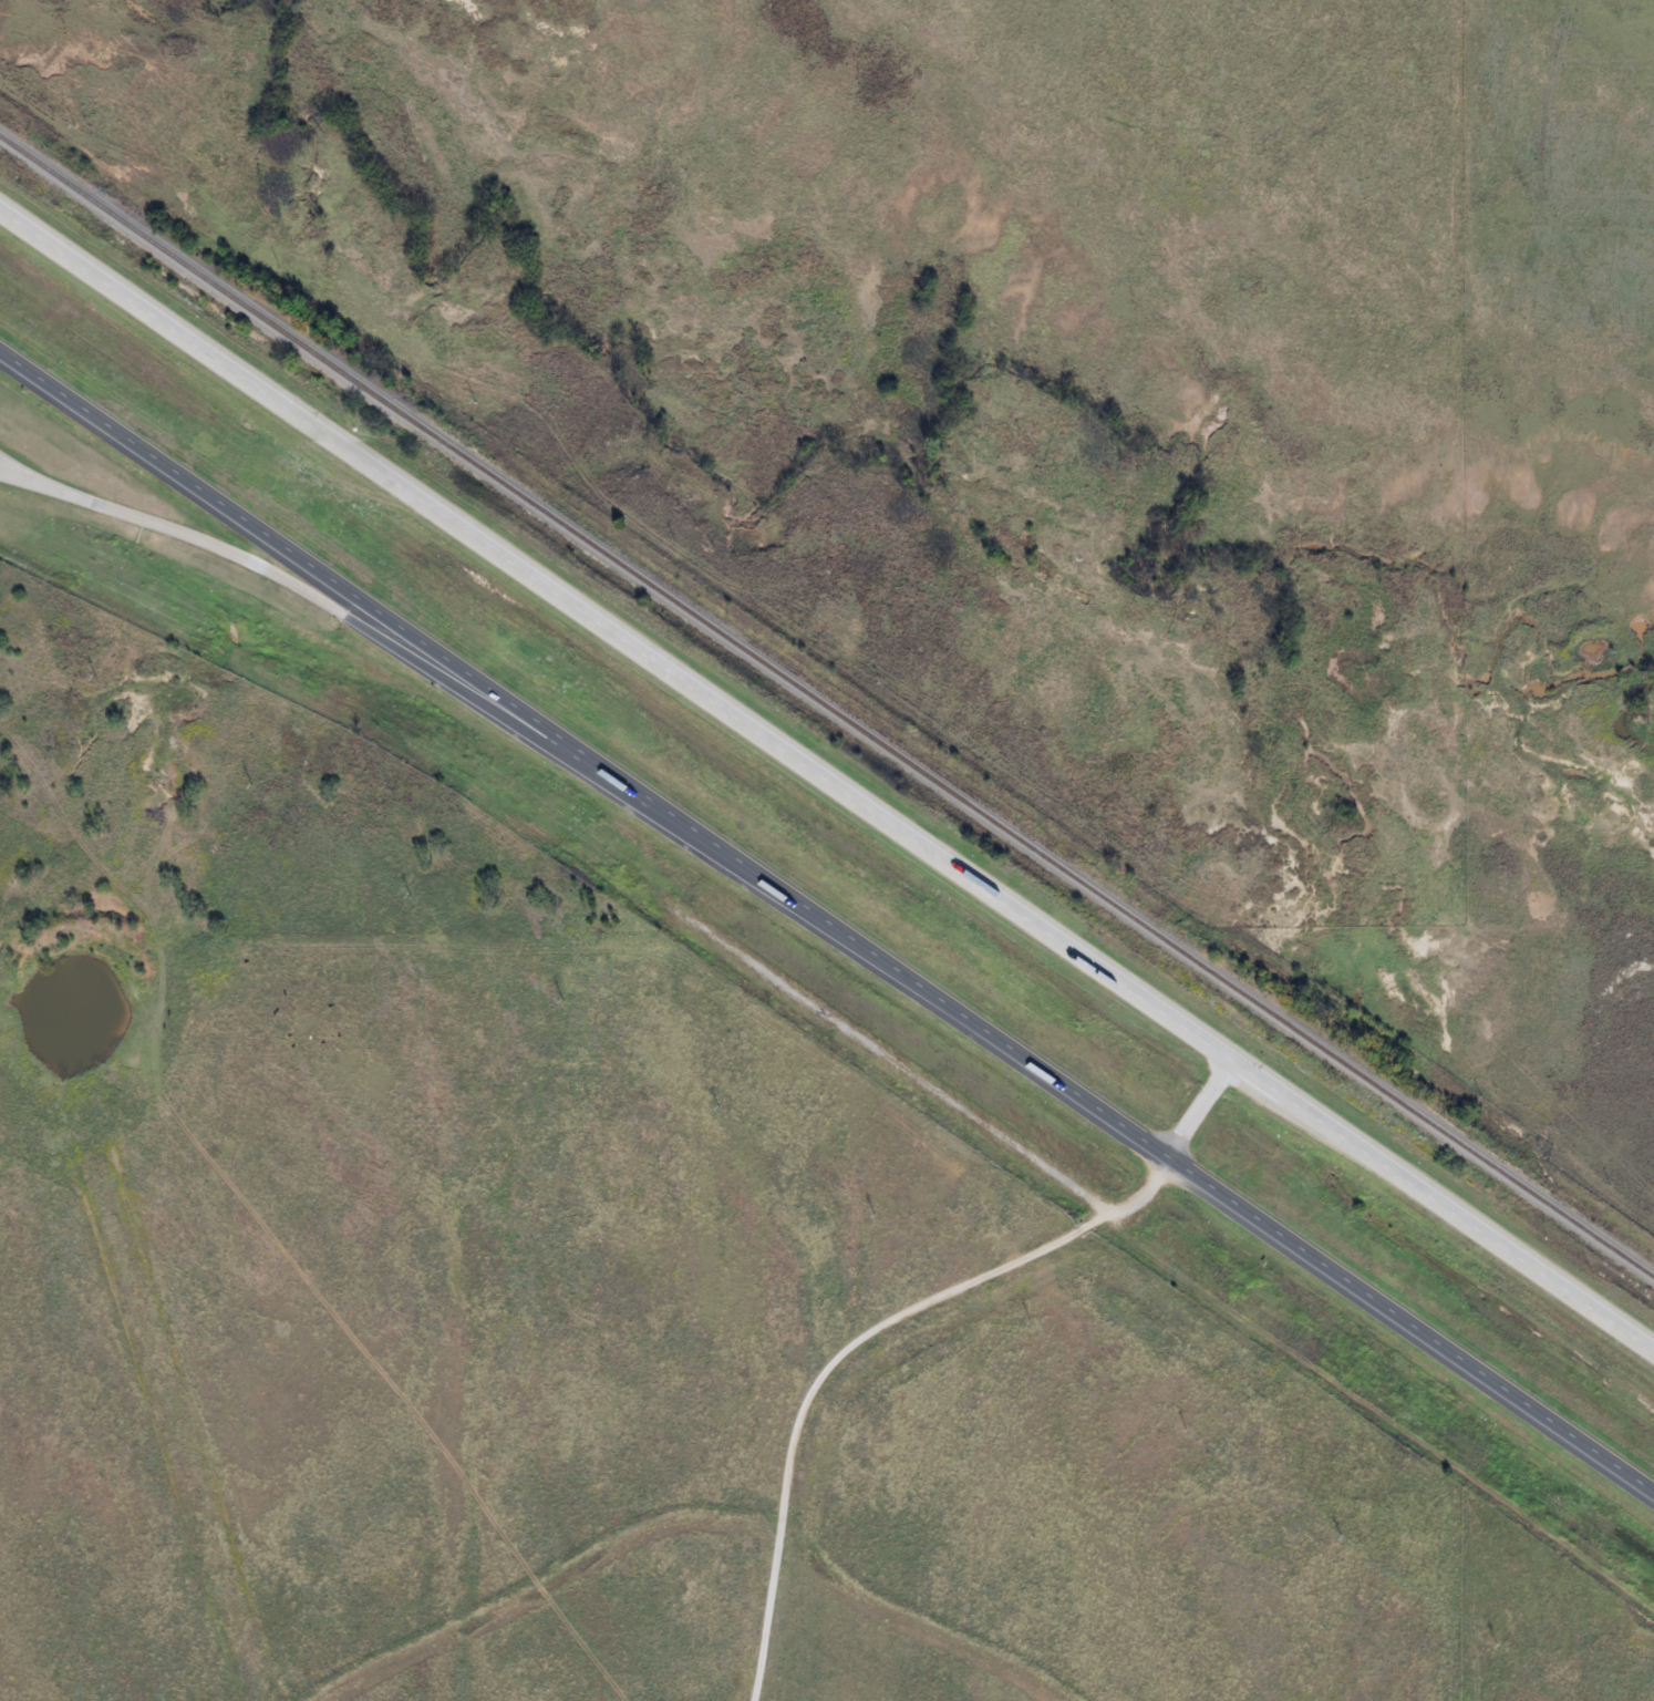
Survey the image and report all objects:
road: (11, 471)
road: (11, 476)
road: (338, 612)
railway: (827, 708)
road: (825, 775)
road: (827, 914)
road: (742, 1032)

